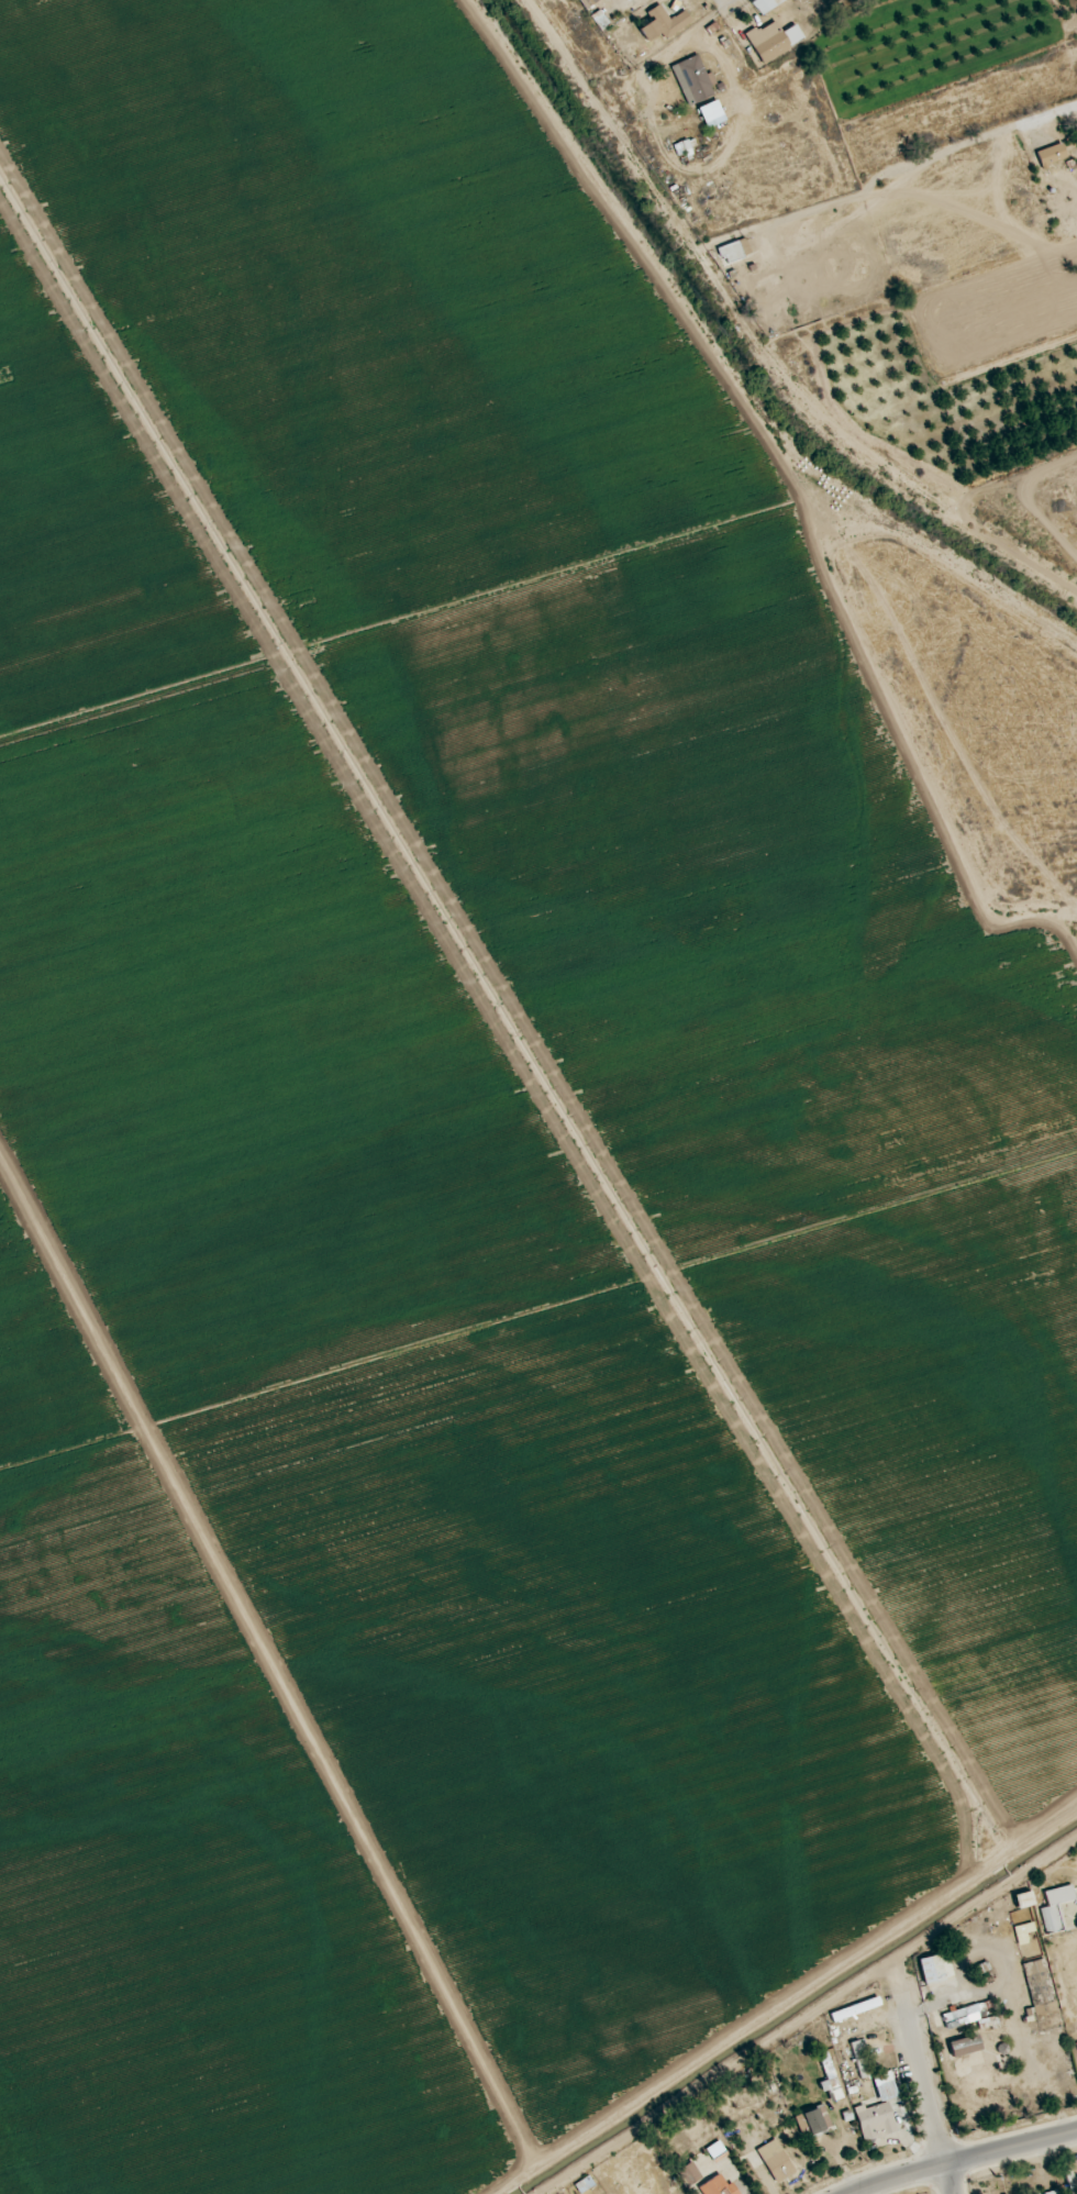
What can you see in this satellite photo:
building: (767, 43)
road: (920, 118)
building: (1024, 1899)
building: (1055, 1907)
building: (1024, 1932)
building: (936, 1968)
building: (1040, 1988)
building: (971, 2016)
building: (965, 2046)
building: (859, 2059)
building: (830, 2080)
road: (926, 2095)
building: (817, 2119)
building: (875, 2119)
building: (715, 2151)
building: (776, 2161)
road: (963, 2161)
building: (689, 2174)
building: (719, 2185)
building: (1056, 2193)

